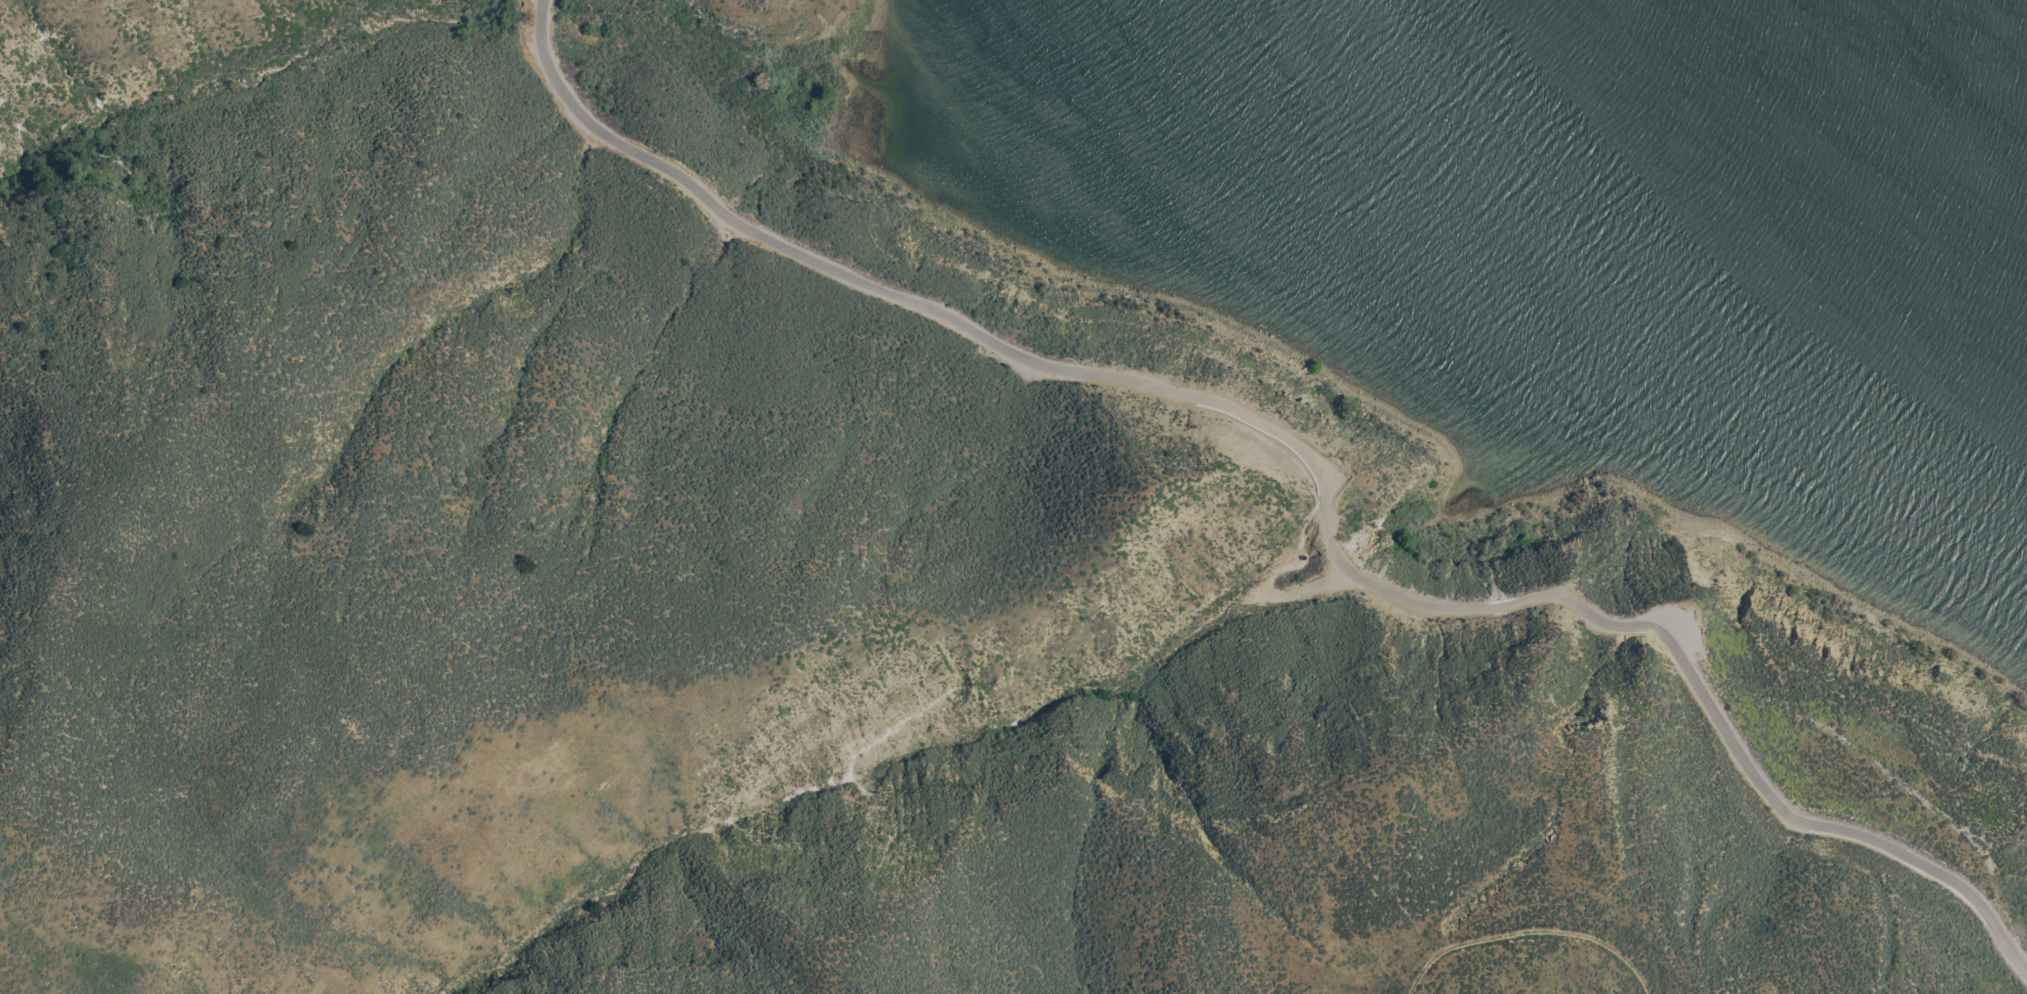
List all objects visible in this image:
road: (1323, 485)

